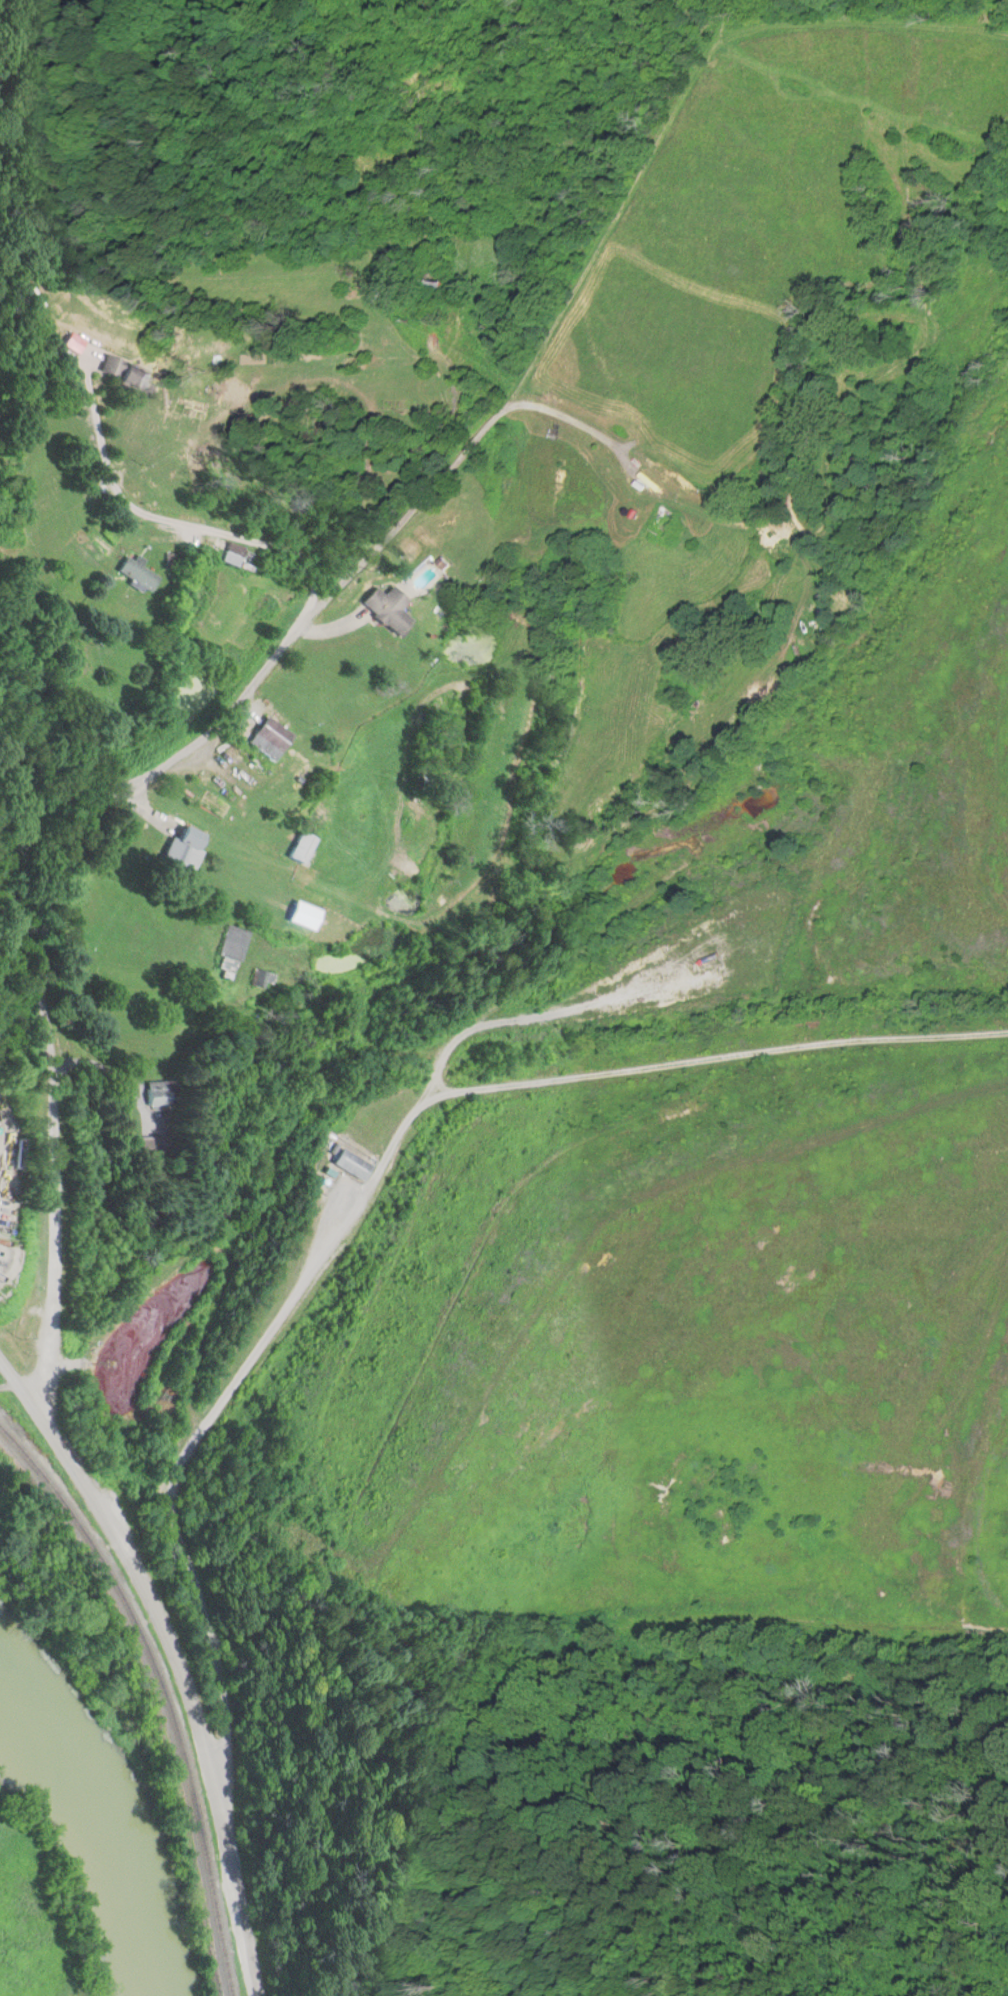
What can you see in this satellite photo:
road: (898, 192)
building: (131, 378)
road: (605, 389)
building: (669, 523)
road: (851, 528)
building: (237, 558)
road: (304, 559)
building: (141, 577)
building: (392, 612)
road: (399, 708)
building: (274, 739)
road: (136, 782)
building: (424, 782)
building: (190, 848)
building: (308, 917)
road: (403, 919)
building: (233, 953)
road: (402, 1049)
building: (158, 1096)
building: (155, 1148)
building: (353, 1165)
road: (362, 1182)
building: (7, 1218)
road: (174, 1659)
railway: (164, 1691)
river: (107, 1828)

